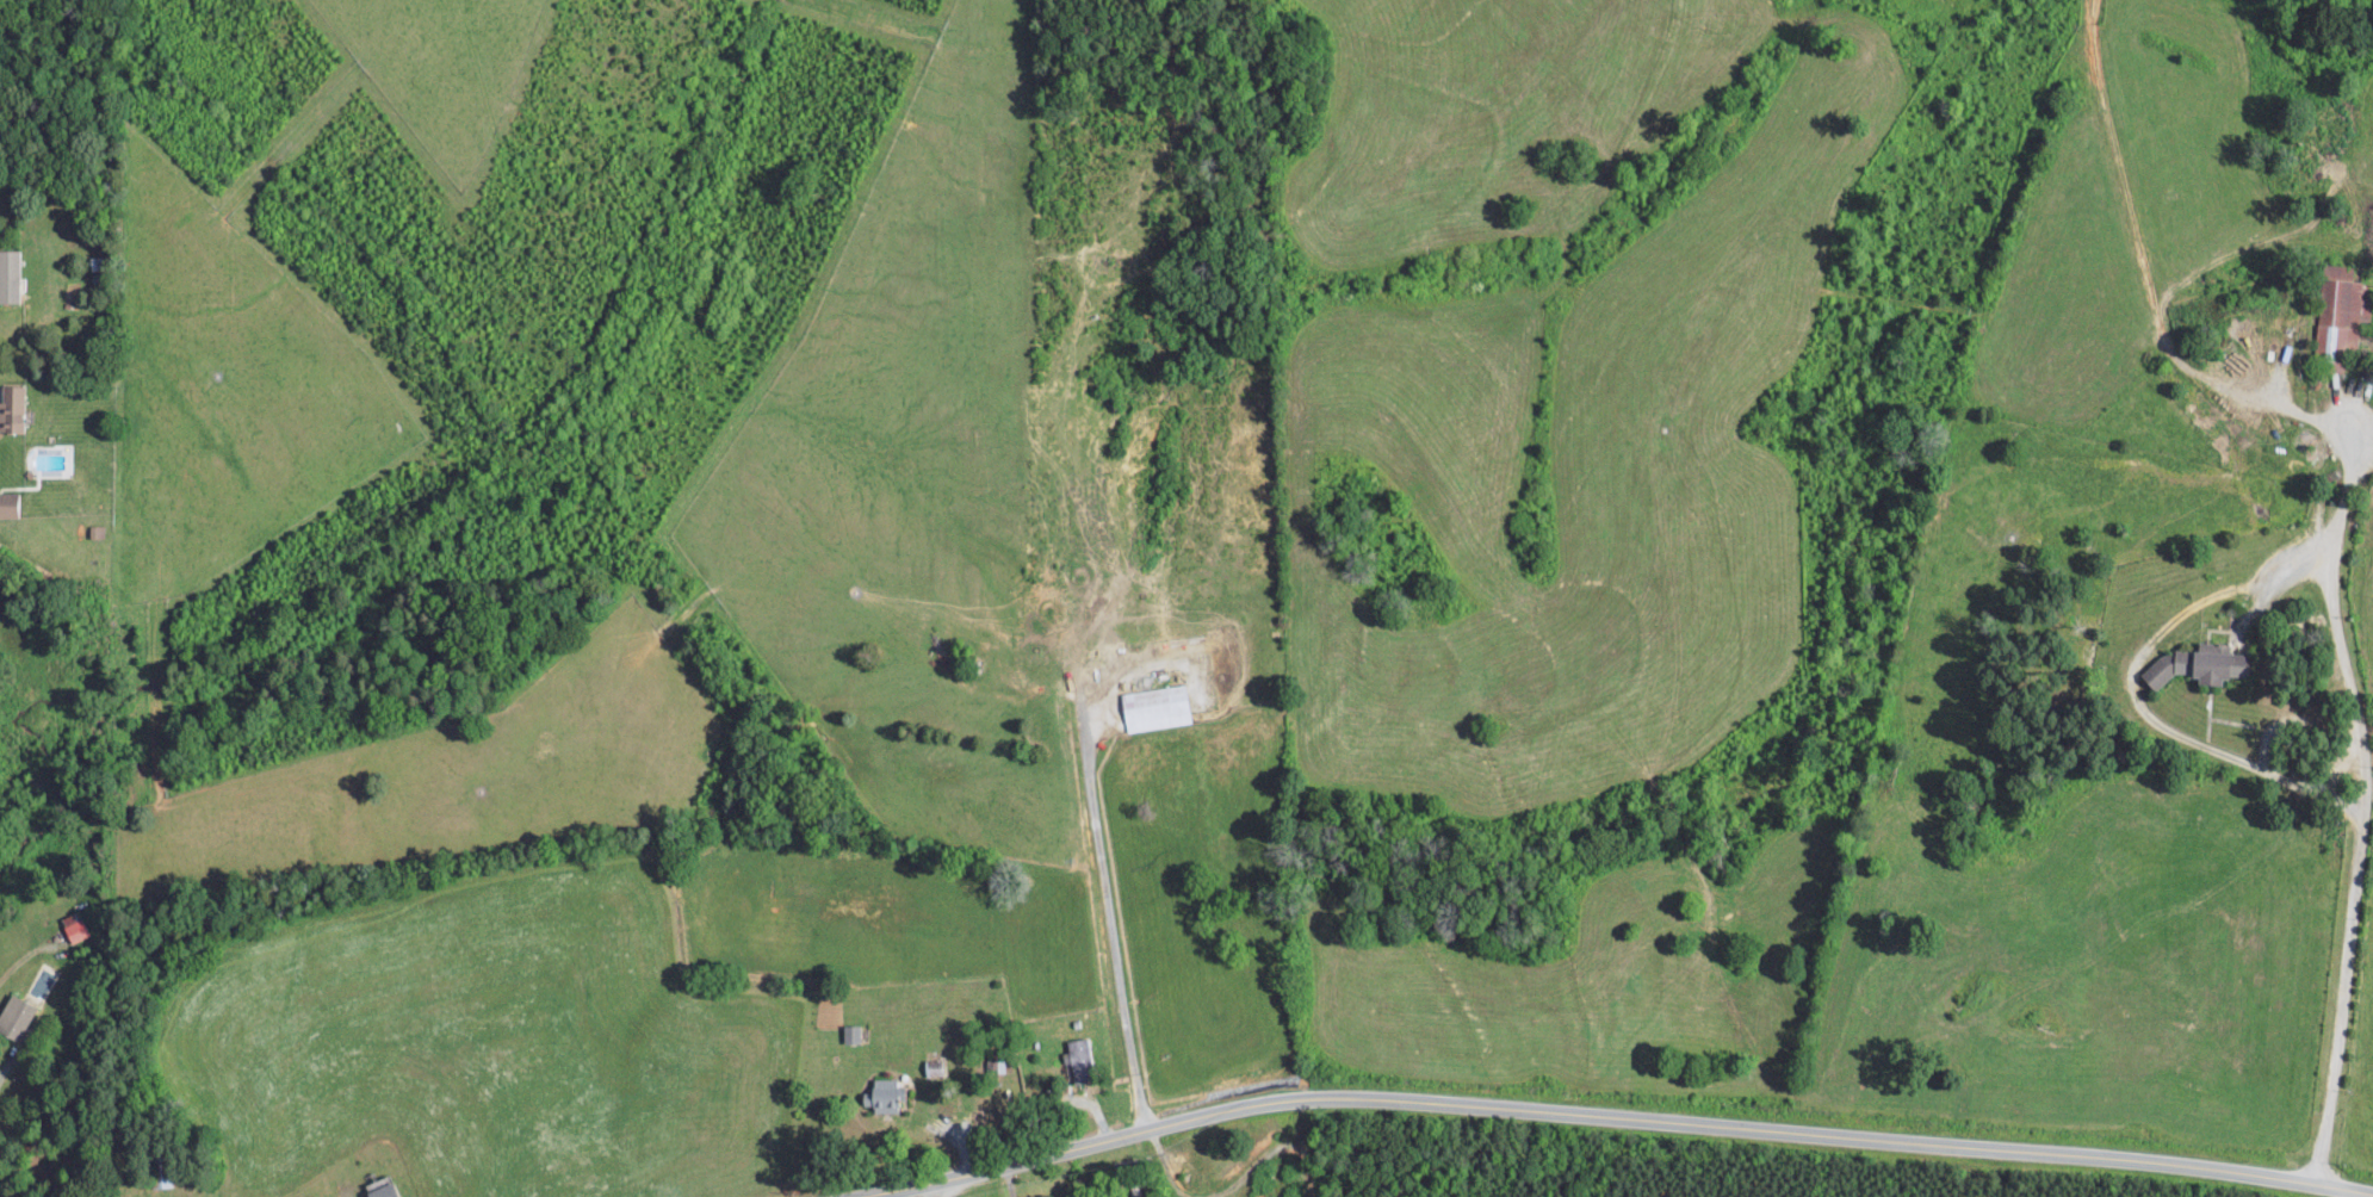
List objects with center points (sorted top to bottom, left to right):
building: (8, 275)
building: (2342, 309)
building: (11, 408)
road: (2348, 490)
building: (8, 504)
building: (2198, 664)
building: (1154, 707)
road: (2243, 759)
road: (2365, 826)
road: (1111, 925)
building: (75, 926)
building: (14, 1017)
building: (850, 1034)
building: (1079, 1059)
road: (8, 1062)
building: (996, 1063)
building: (933, 1066)
building: (882, 1093)
road: (1607, 1115)
building: (380, 1190)

